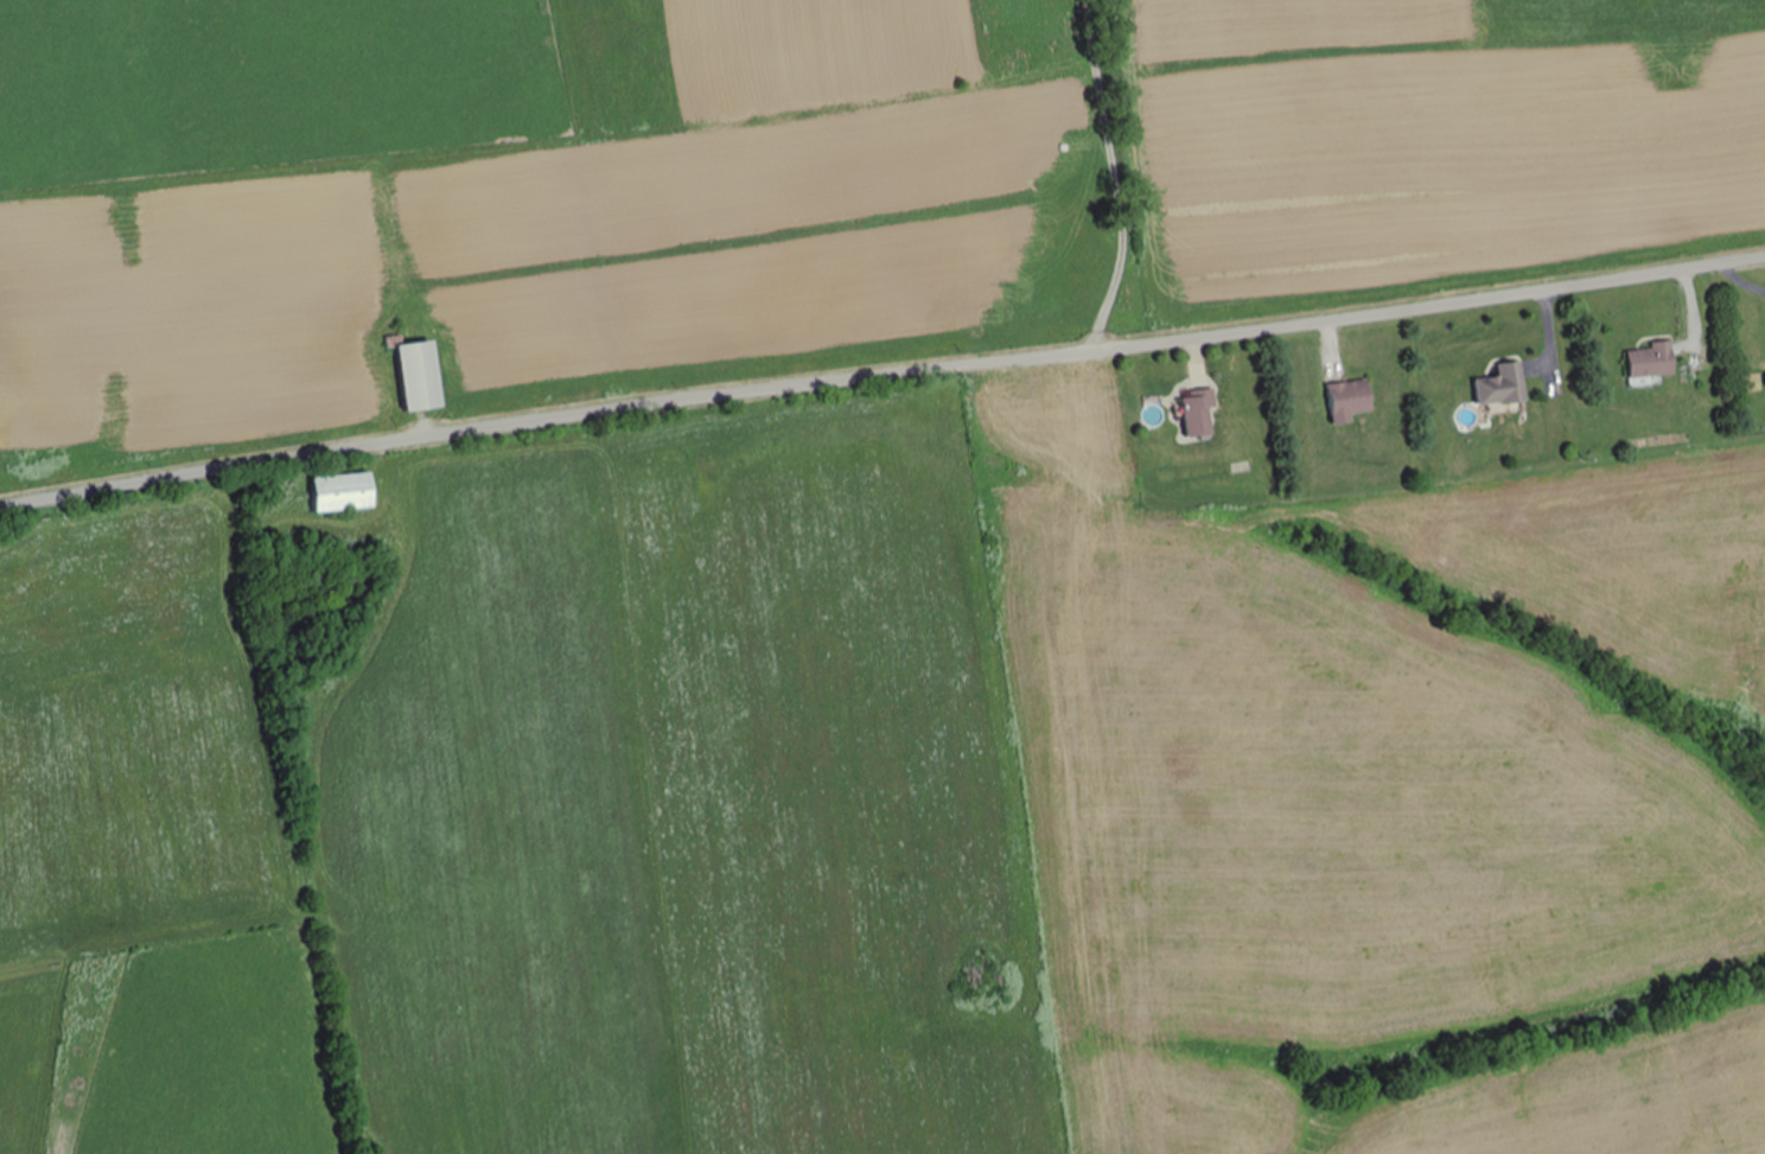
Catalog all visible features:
road: (1141, 171)
building: (1655, 361)
road: (881, 374)
building: (423, 376)
building: (1508, 385)
building: (1356, 400)
building: (1205, 414)
building: (348, 492)

